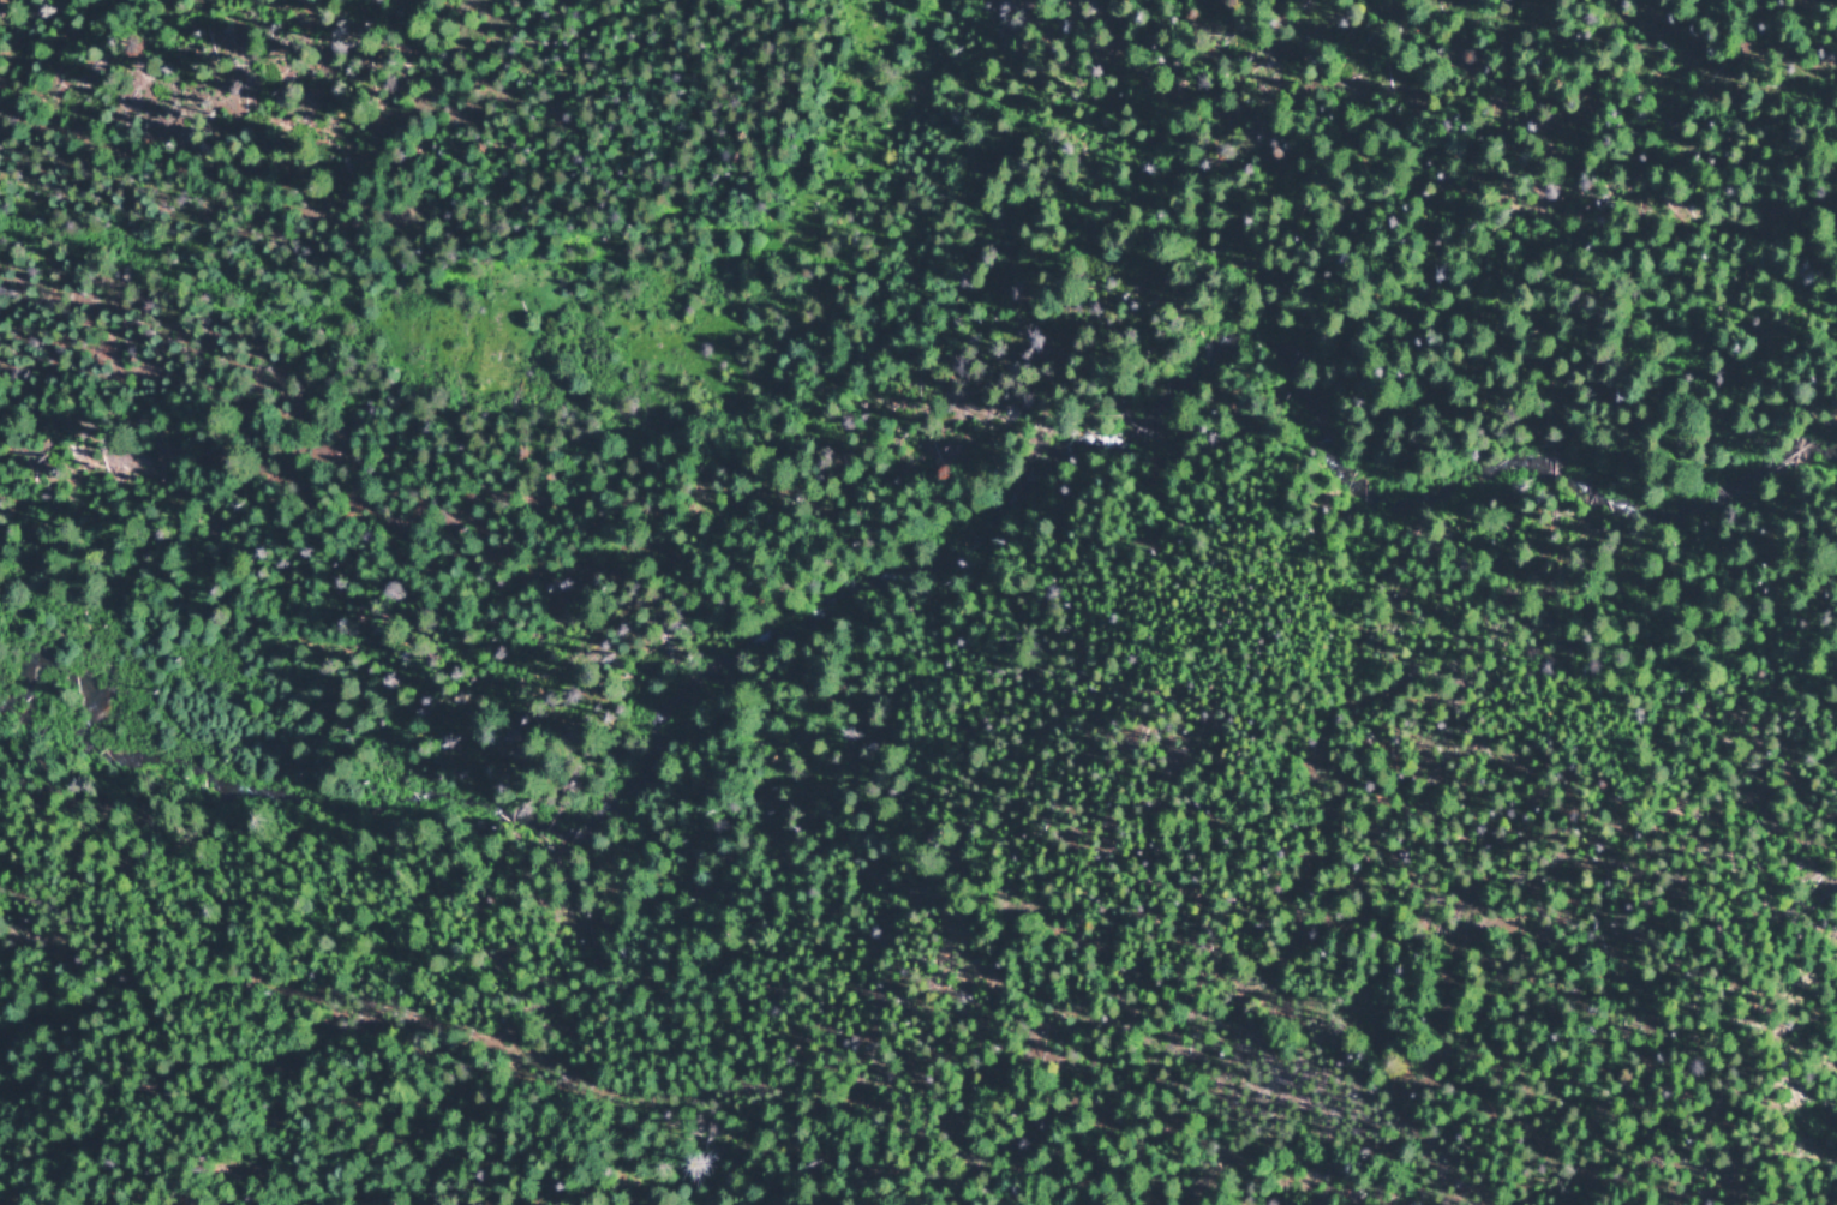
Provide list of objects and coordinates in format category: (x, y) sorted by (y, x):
road: (358, 163)

